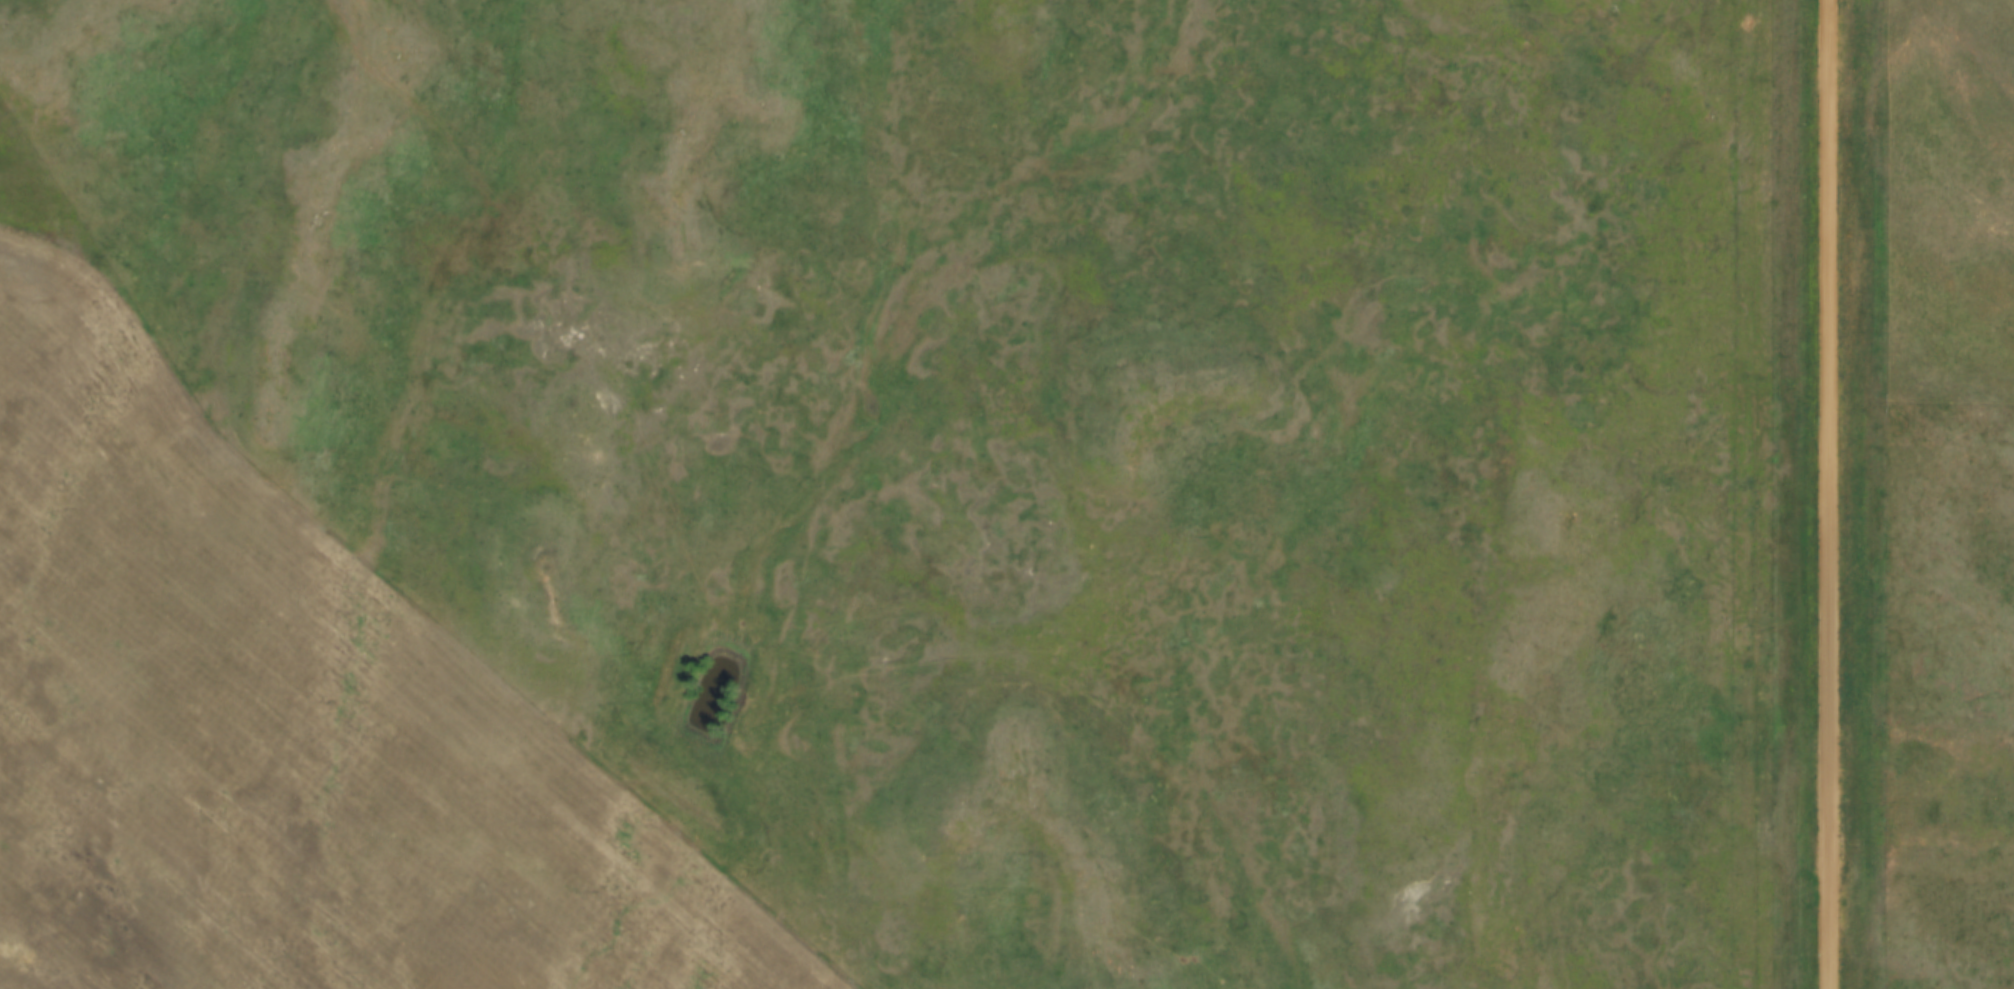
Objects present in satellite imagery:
road: (1830, 494)

